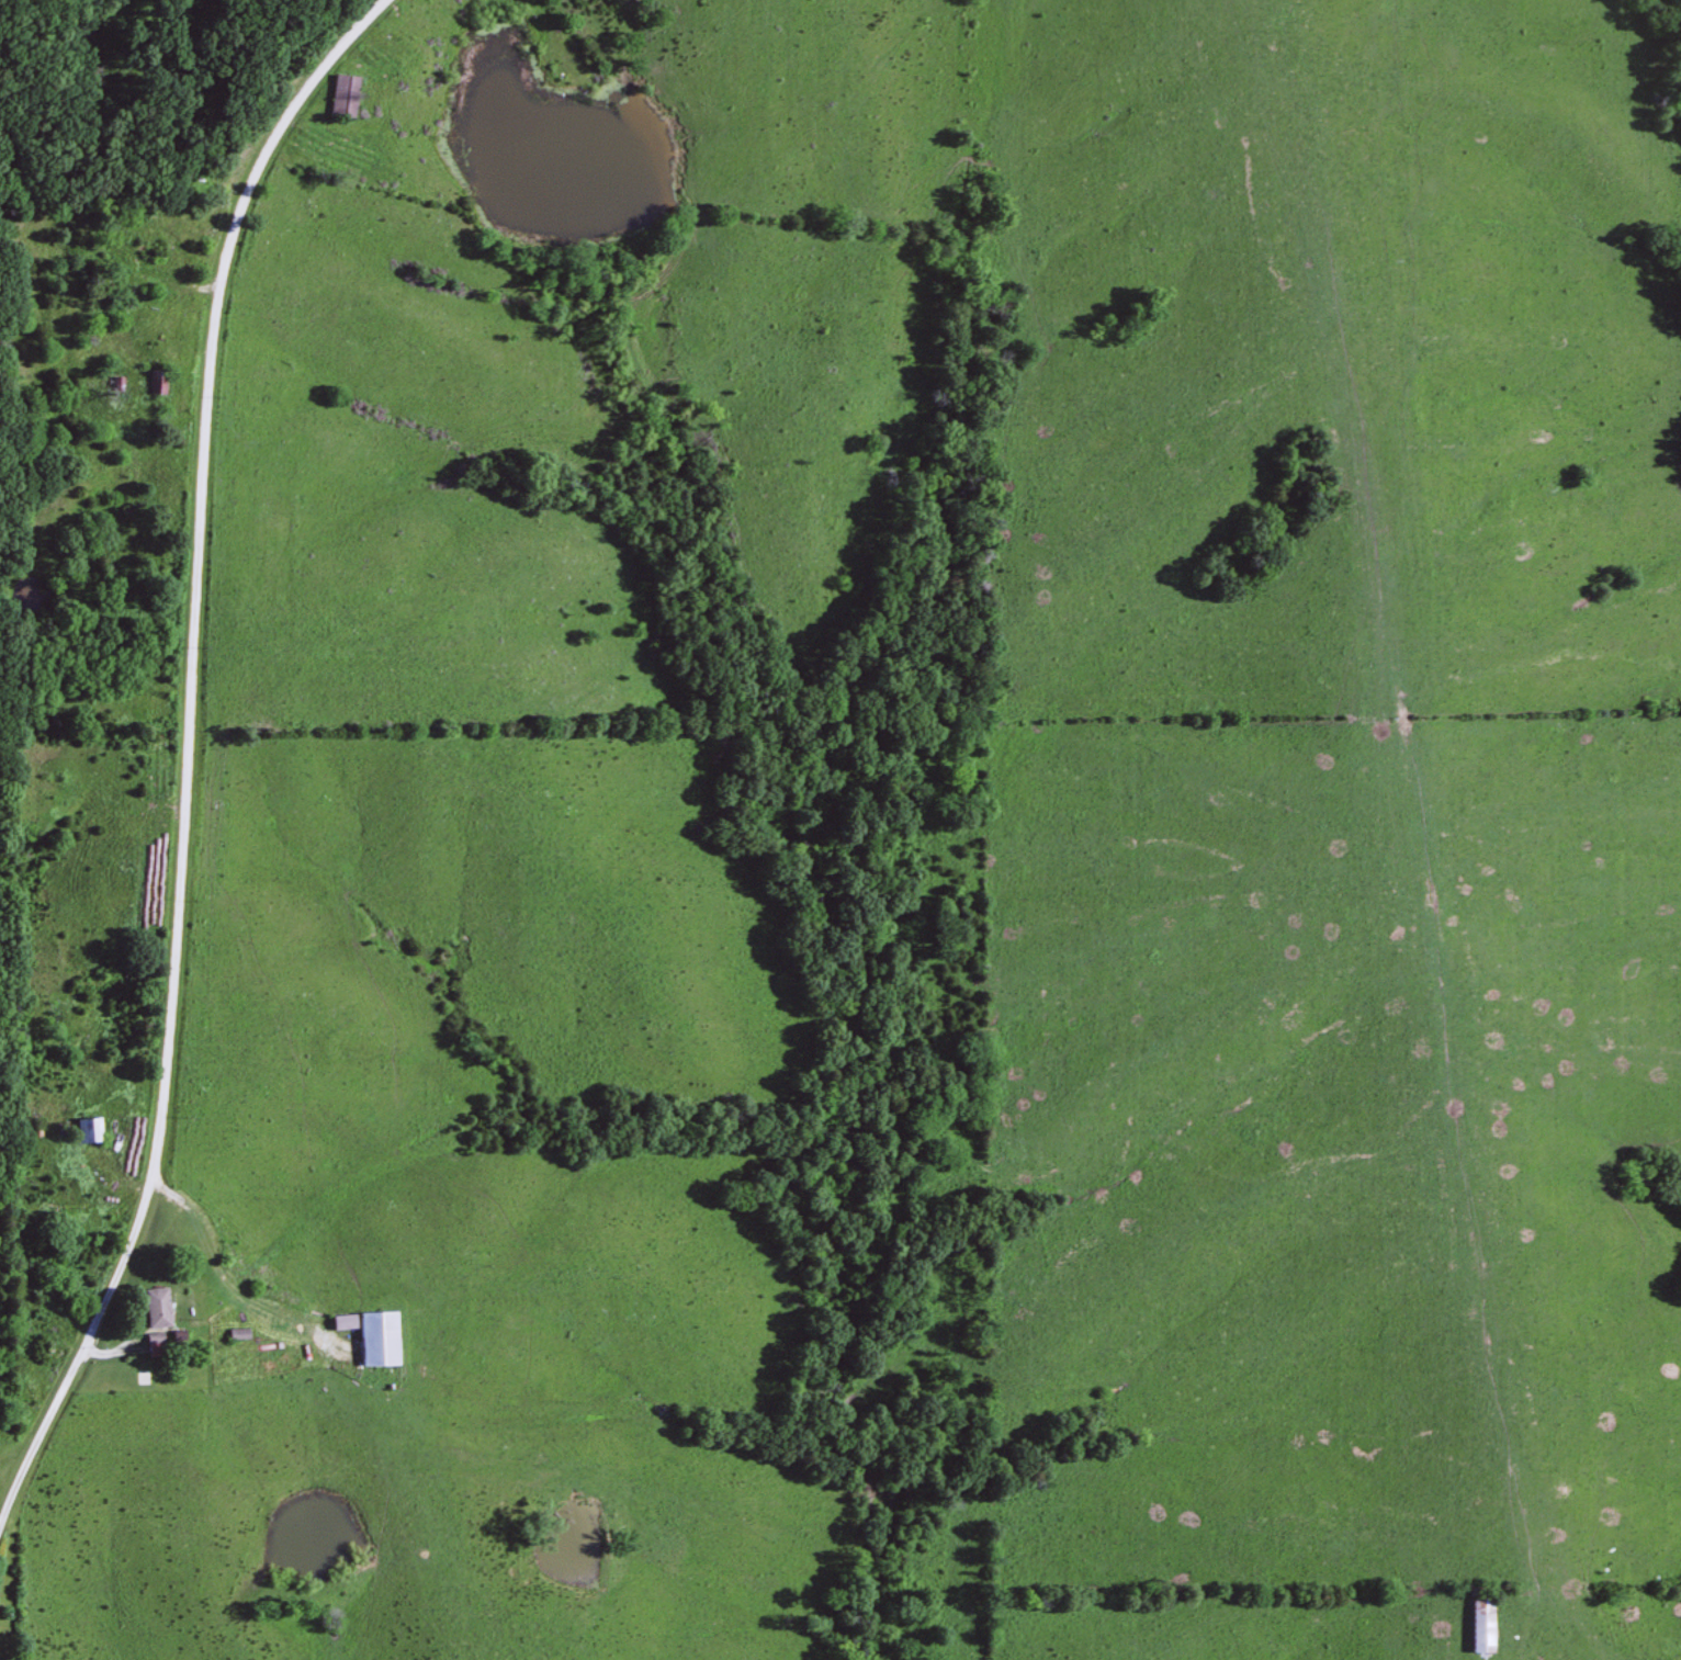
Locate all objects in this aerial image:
building: (338, 97)
building: (154, 382)
road: (180, 748)
building: (84, 1130)
building: (154, 1308)
building: (372, 1339)
road: (205, 1363)
building: (1477, 1624)

